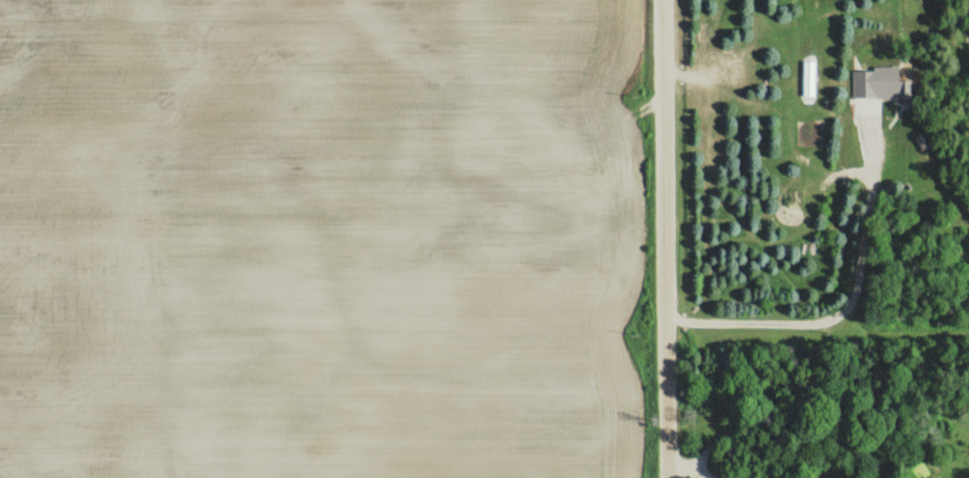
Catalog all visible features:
building: (903, 89)
road: (666, 239)

